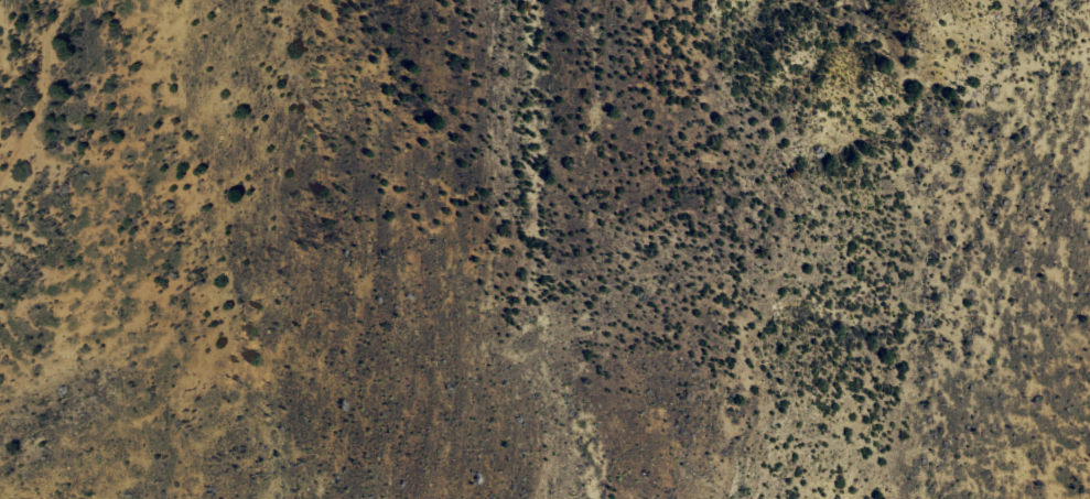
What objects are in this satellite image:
road: (56, 127)

